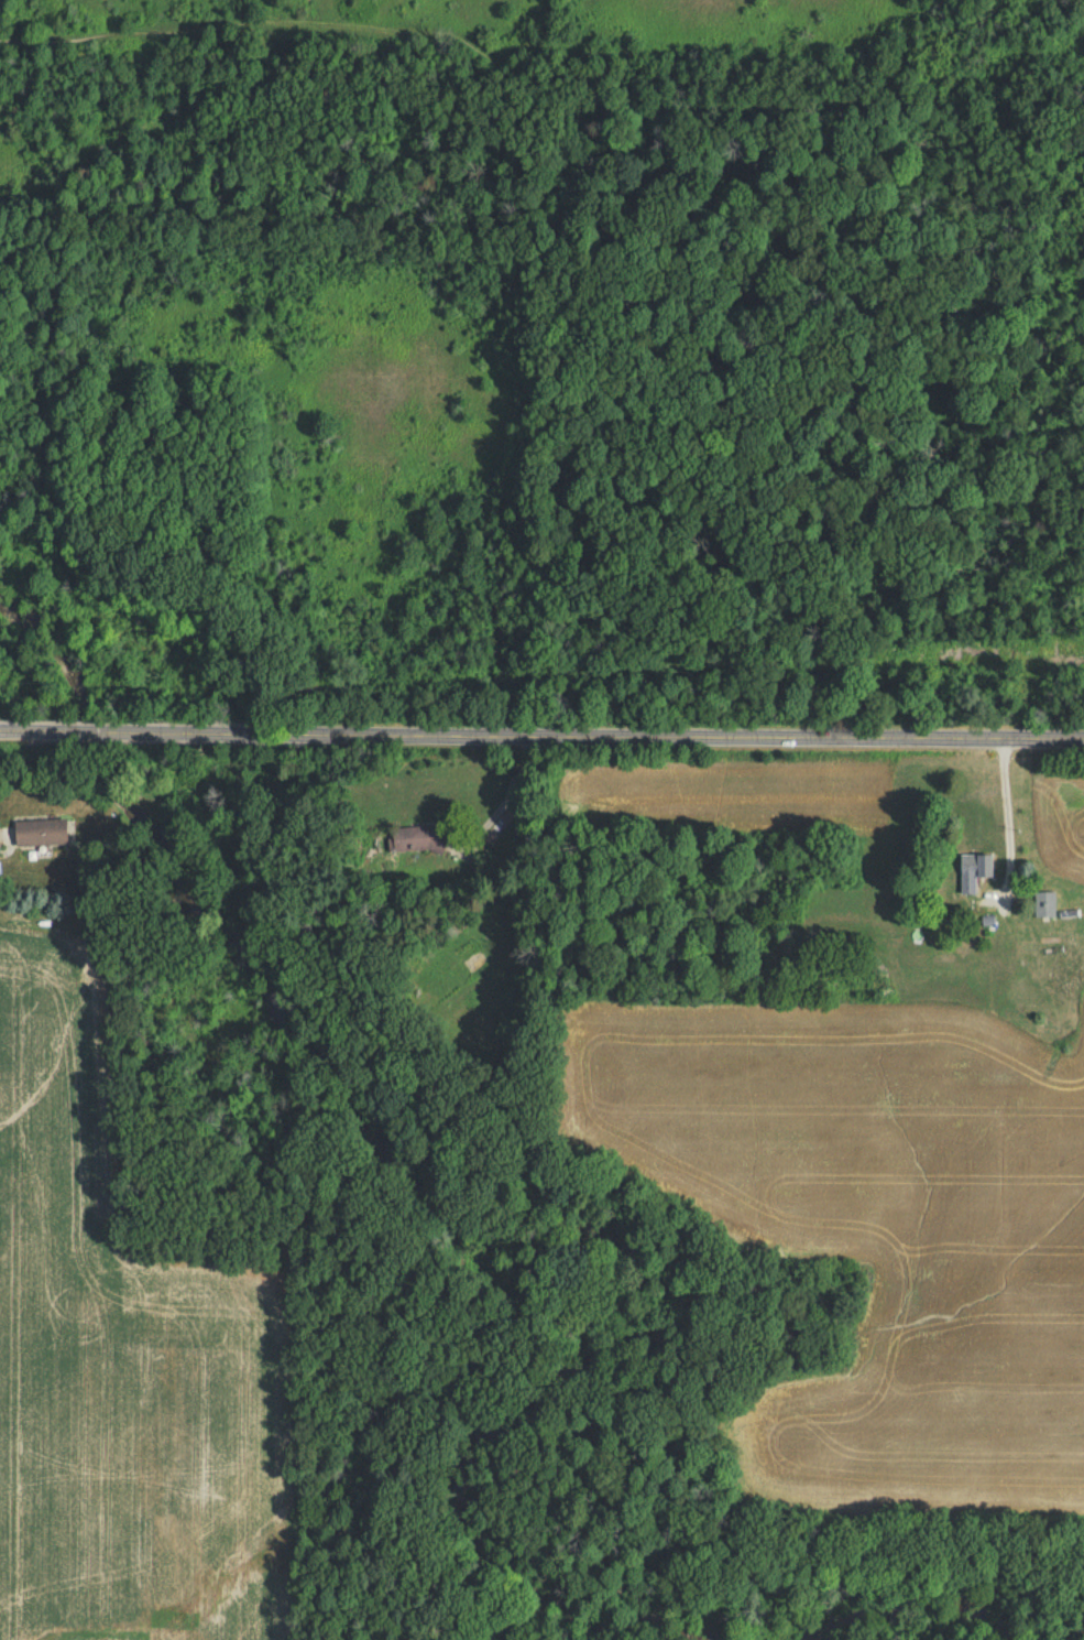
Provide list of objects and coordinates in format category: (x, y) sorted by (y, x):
park: (543, 371)
road: (541, 738)
road: (507, 800)
road: (1004, 817)
building: (42, 836)
building: (415, 843)
building: (970, 875)
building: (1042, 909)

